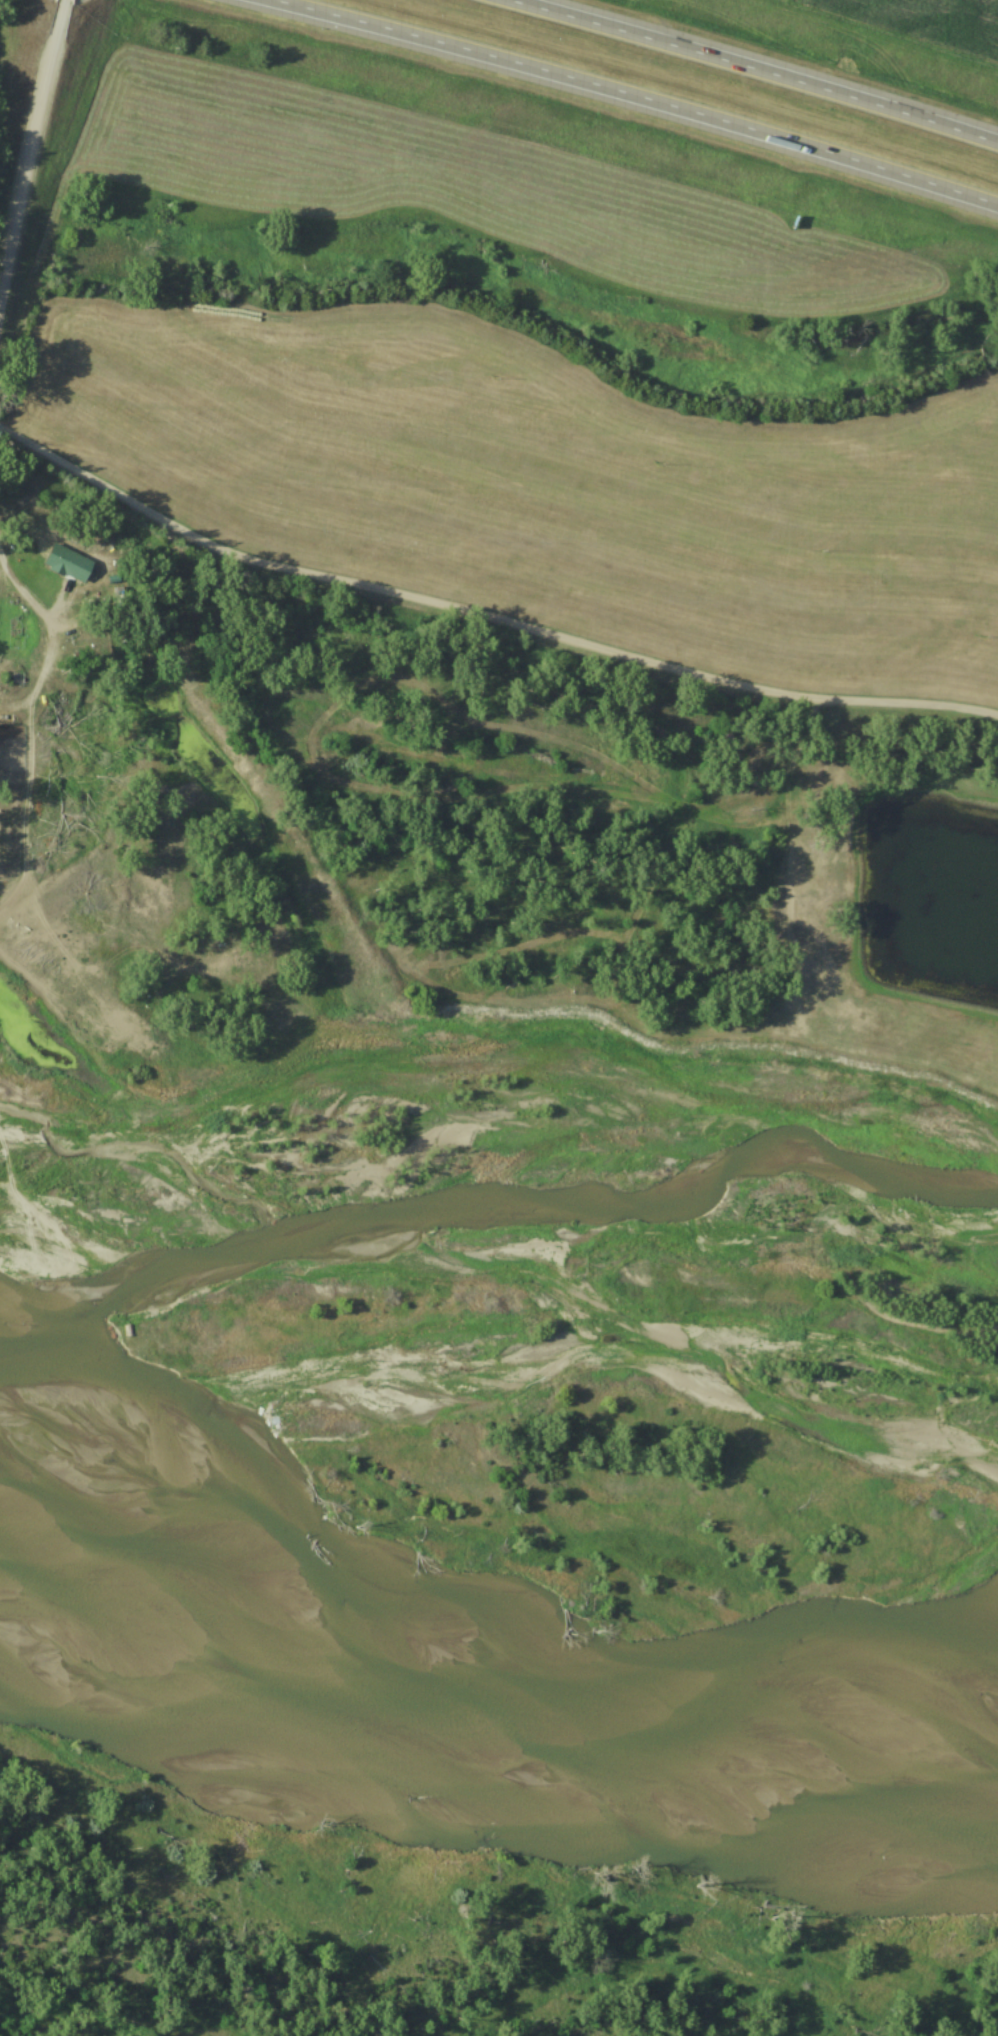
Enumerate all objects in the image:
road: (749, 70)
road: (635, 98)
road: (36, 142)
road: (485, 620)
road: (47, 645)
building: (39, 1347)
river: (489, 1672)

